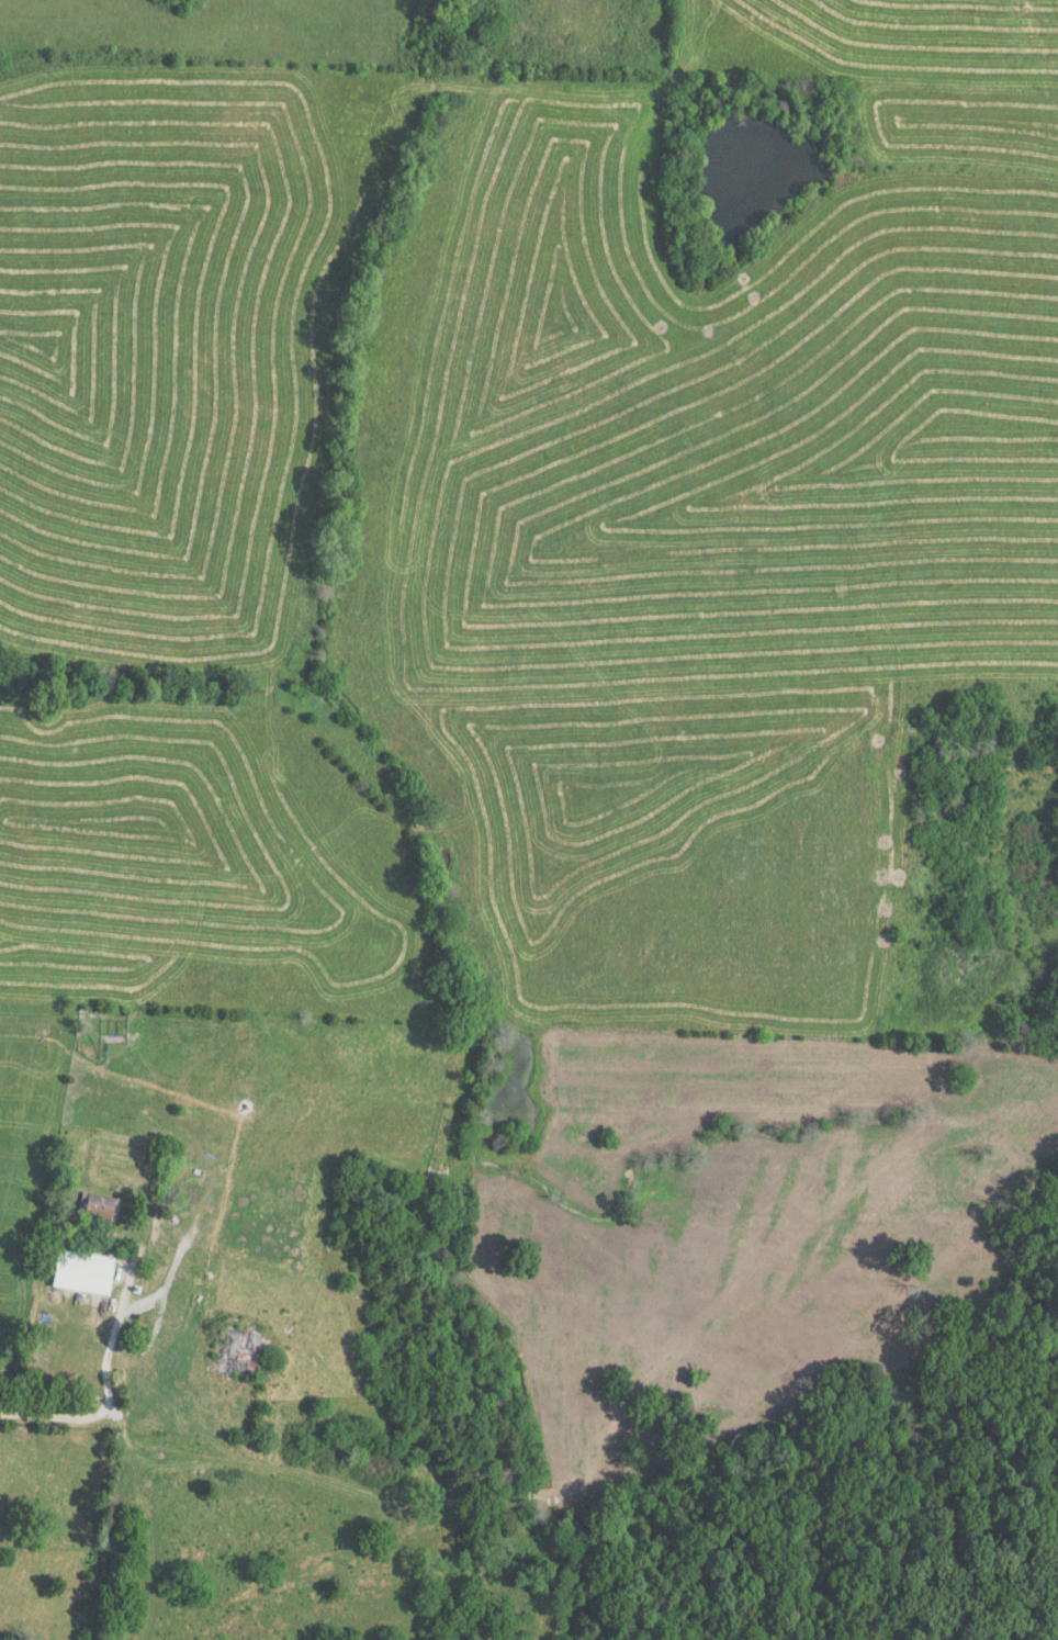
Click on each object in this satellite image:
building: (92, 1206)
building: (233, 1352)

